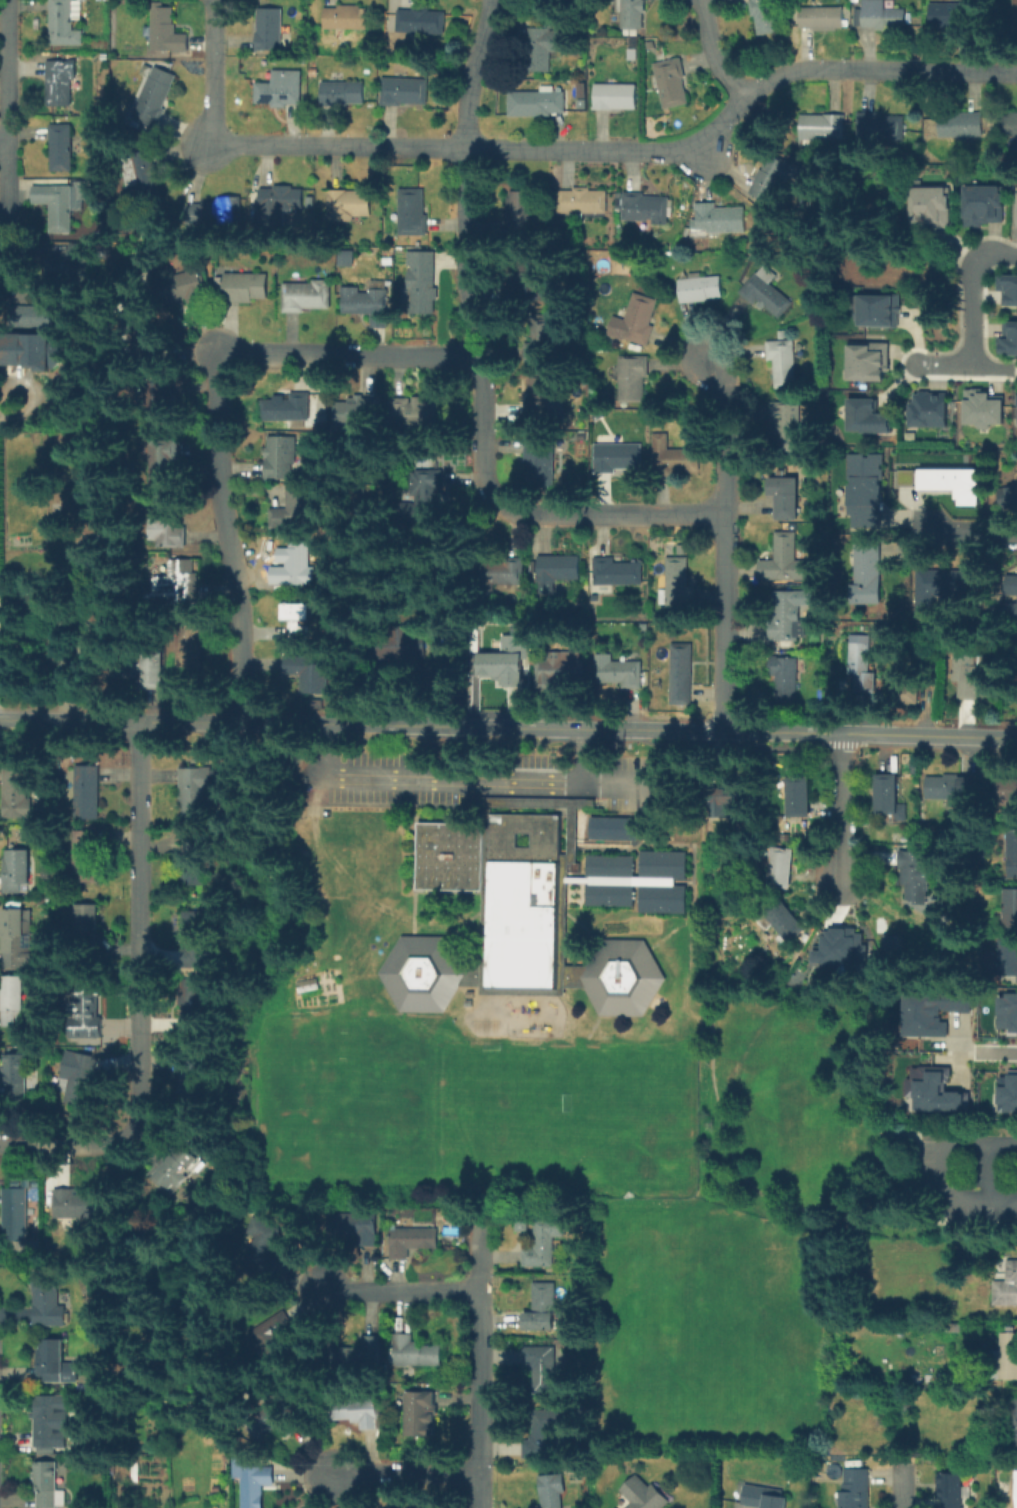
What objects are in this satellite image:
building: (553, 1)
building: (632, 14)
building: (768, 16)
building: (880, 16)
building: (950, 17)
building: (1015, 18)
building: (347, 19)
building: (823, 20)
building: (64, 23)
building: (422, 23)
building: (271, 32)
building: (164, 36)
building: (544, 51)
road: (714, 53)
building: (634, 54)
building: (62, 85)
building: (673, 85)
building: (281, 90)
building: (405, 91)
building: (341, 93)
building: (616, 95)
building: (156, 99)
building: (542, 104)
road: (736, 104)
building: (1011, 123)
building: (962, 127)
building: (818, 128)
building: (881, 130)
road: (5, 132)
road: (269, 144)
building: (63, 146)
road: (3, 147)
building: (140, 174)
building: (777, 175)
building: (583, 203)
building: (279, 204)
building: (59, 205)
building: (350, 205)
building: (982, 205)
building: (928, 206)
building: (643, 208)
building: (1016, 211)
building: (216, 213)
building: (412, 214)
building: (519, 214)
building: (722, 221)
building: (344, 257)
building: (71, 265)
building: (530, 286)
building: (1008, 288)
building: (188, 289)
building: (245, 289)
road: (969, 289)
building: (702, 290)
building: (422, 293)
building: (767, 294)
building: (307, 297)
building: (367, 303)
building: (877, 310)
building: (40, 313)
building: (641, 321)
building: (1009, 339)
building: (151, 346)
building: (36, 350)
building: (538, 352)
building: (867, 361)
building: (782, 362)
road: (482, 365)
road: (962, 366)
building: (633, 378)
road: (41, 392)
building: (542, 397)
building: (158, 398)
road: (215, 408)
building: (929, 410)
building: (984, 410)
building: (293, 413)
building: (348, 414)
building: (412, 414)
building: (865, 416)
building: (1016, 425)
building: (788, 429)
road: (725, 432)
building: (280, 459)
building: (618, 459)
building: (163, 460)
building: (541, 462)
building: (675, 463)
building: (904, 477)
building: (955, 484)
building: (866, 490)
building: (1006, 495)
building: (423, 497)
building: (786, 497)
building: (295, 510)
building: (169, 530)
road: (966, 536)
building: (788, 560)
building: (300, 566)
building: (89, 568)
building: (557, 571)
building: (507, 572)
building: (869, 572)
building: (618, 574)
building: (182, 584)
building: (679, 585)
building: (946, 589)
building: (1016, 608)
building: (788, 618)
building: (297, 620)
road: (727, 622)
building: (190, 643)
building: (401, 648)
road: (53, 654)
building: (1016, 662)
building: (862, 665)
building: (501, 666)
building: (144, 669)
building: (555, 671)
building: (305, 673)
building: (620, 675)
building: (969, 675)
building: (683, 679)
building: (785, 679)
road: (54, 721)
road: (526, 728)
road: (980, 737)
parking lot: (496, 778)
road: (369, 779)
road: (498, 780)
road: (622, 781)
building: (195, 789)
building: (953, 790)
building: (1004, 792)
building: (18, 794)
building: (86, 796)
building: (726, 798)
building: (799, 798)
building: (889, 800)
road: (842, 807)
building: (1011, 856)
building: (84, 859)
building: (193, 866)
building: (18, 867)
building: (781, 869)
building: (918, 877)
building: (637, 880)
road: (414, 893)
road: (687, 895)
building: (1009, 909)
building: (87, 920)
building: (512, 920)
building: (785, 921)
building: (880, 925)
building: (197, 940)
building: (17, 941)
building: (893, 943)
building: (839, 947)
building: (1008, 958)
building: (306, 985)
road: (142, 999)
building: (195, 1001)
building: (13, 1003)
building: (1006, 1011)
building: (88, 1016)
park: (580, 1023)
road: (990, 1051)
park: (356, 1060)
building: (17, 1079)
building: (79, 1080)
building: (194, 1087)
building: (1006, 1093)
park: (547, 1106)
building: (900, 1129)
park: (351, 1133)
road: (921, 1147)
building: (177, 1166)
road: (944, 1171)
road: (990, 1172)
parking lot: (970, 1177)
road: (846, 1187)
building: (78, 1206)
road: (789, 1206)
building: (16, 1216)
building: (523, 1224)
park: (775, 1227)
building: (359, 1228)
building: (544, 1243)
building: (410, 1245)
building: (261, 1248)
building: (962, 1252)
building: (1009, 1286)
road: (404, 1292)
building: (48, 1305)
building: (542, 1310)
building: (956, 1327)
building: (274, 1335)
building: (364, 1352)
building: (415, 1353)
building: (1007, 1356)
building: (51, 1362)
road: (479, 1364)
building: (544, 1370)
building: (364, 1414)
building: (422, 1416)
building: (52, 1422)
building: (1012, 1424)
building: (545, 1437)
road: (404, 1473)
building: (253, 1482)
road: (903, 1482)
building: (49, 1486)
building: (856, 1490)
building: (954, 1491)
building: (1016, 1491)
building: (553, 1492)
building: (645, 1496)
building: (765, 1499)
building: (405, 1507)

